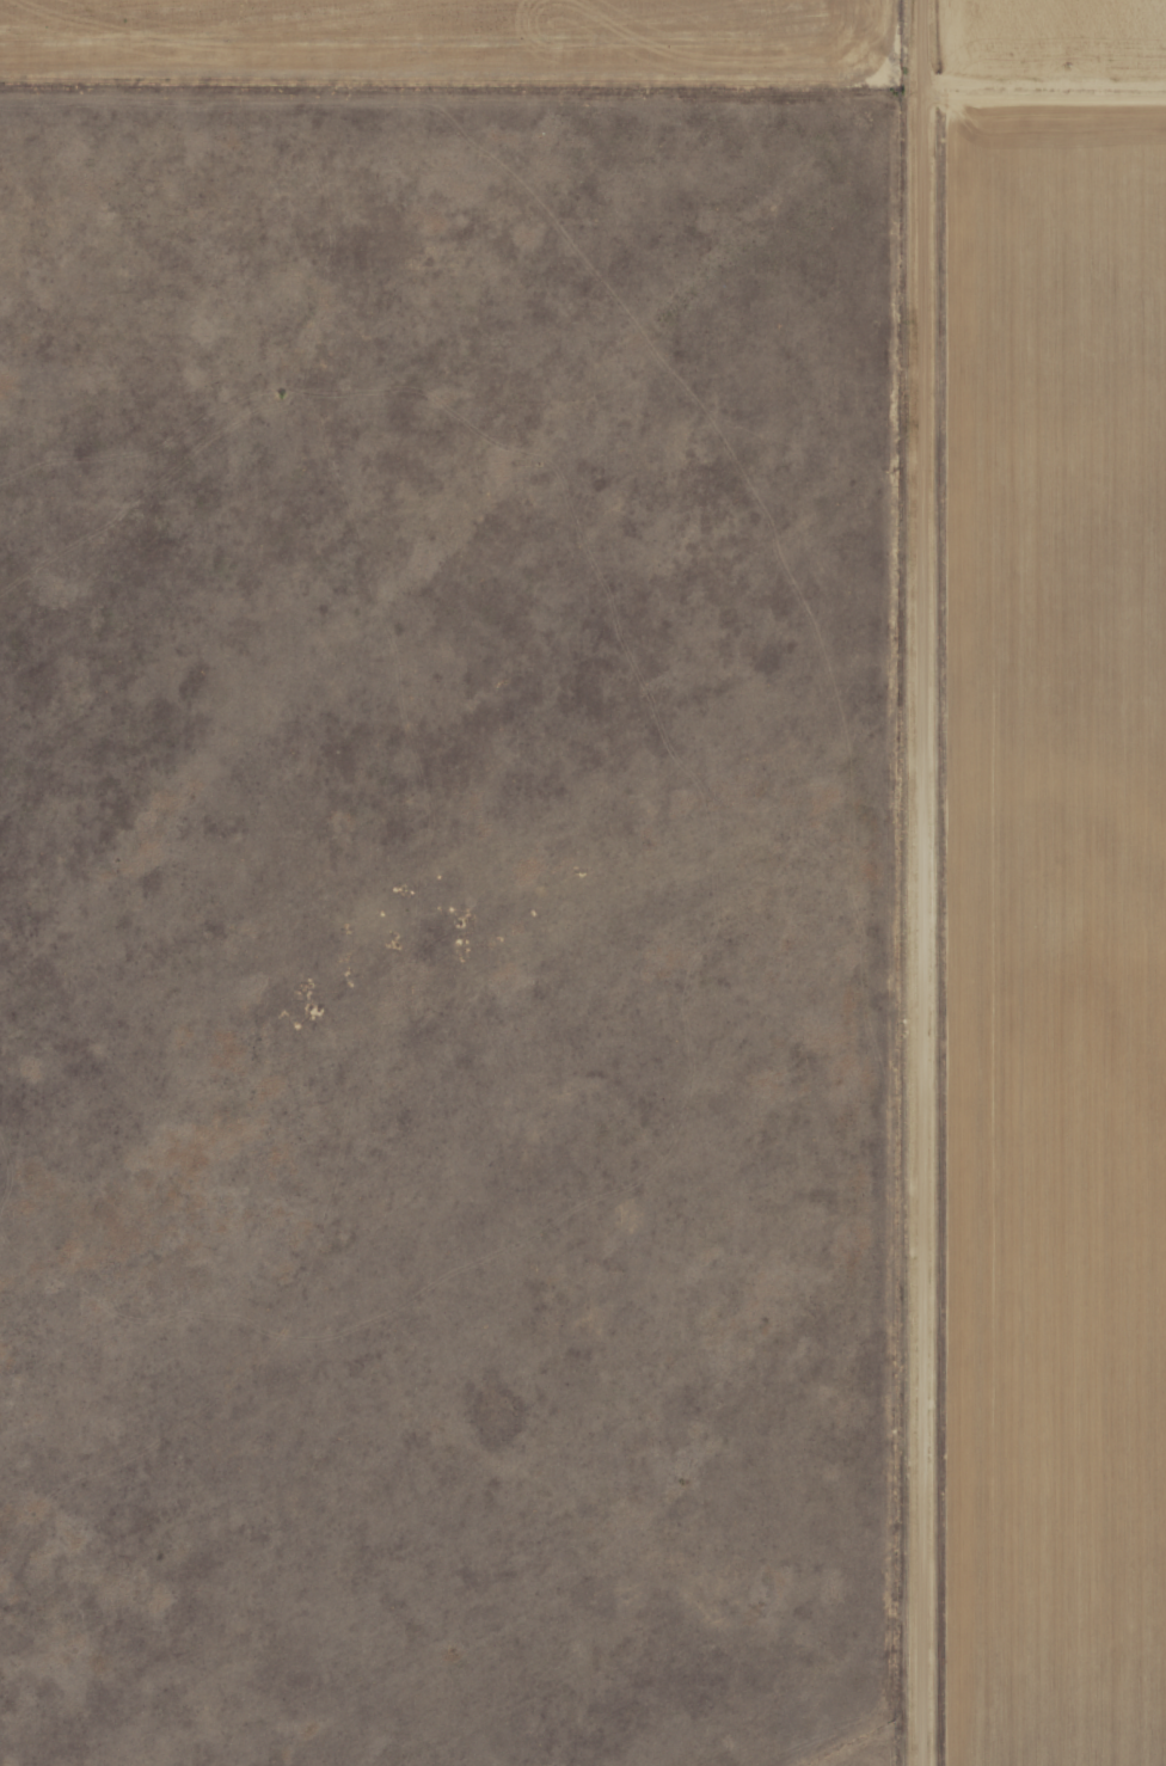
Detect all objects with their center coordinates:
road: (1047, 229)
road: (1036, 639)
road: (927, 882)

